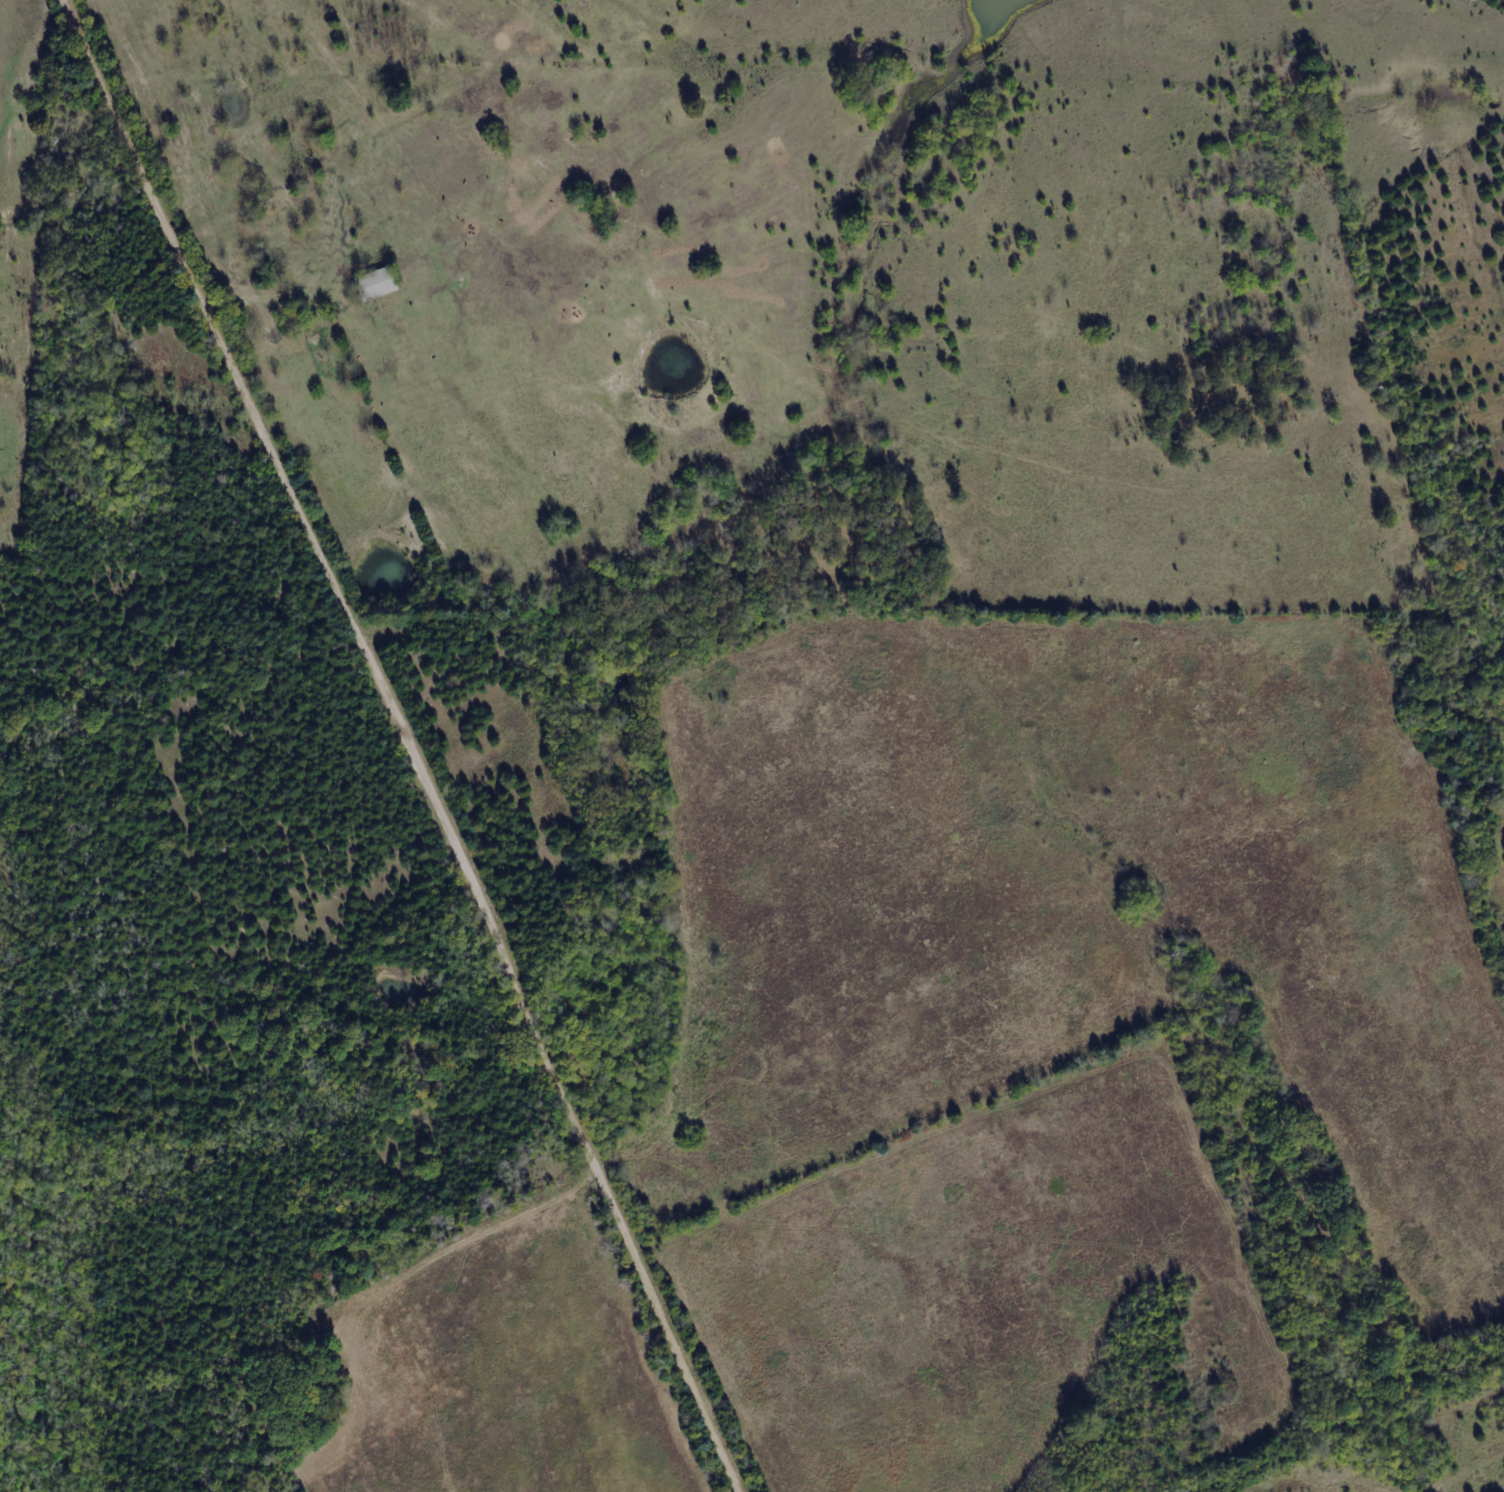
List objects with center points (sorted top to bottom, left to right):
building: (378, 283)
road: (387, 746)

